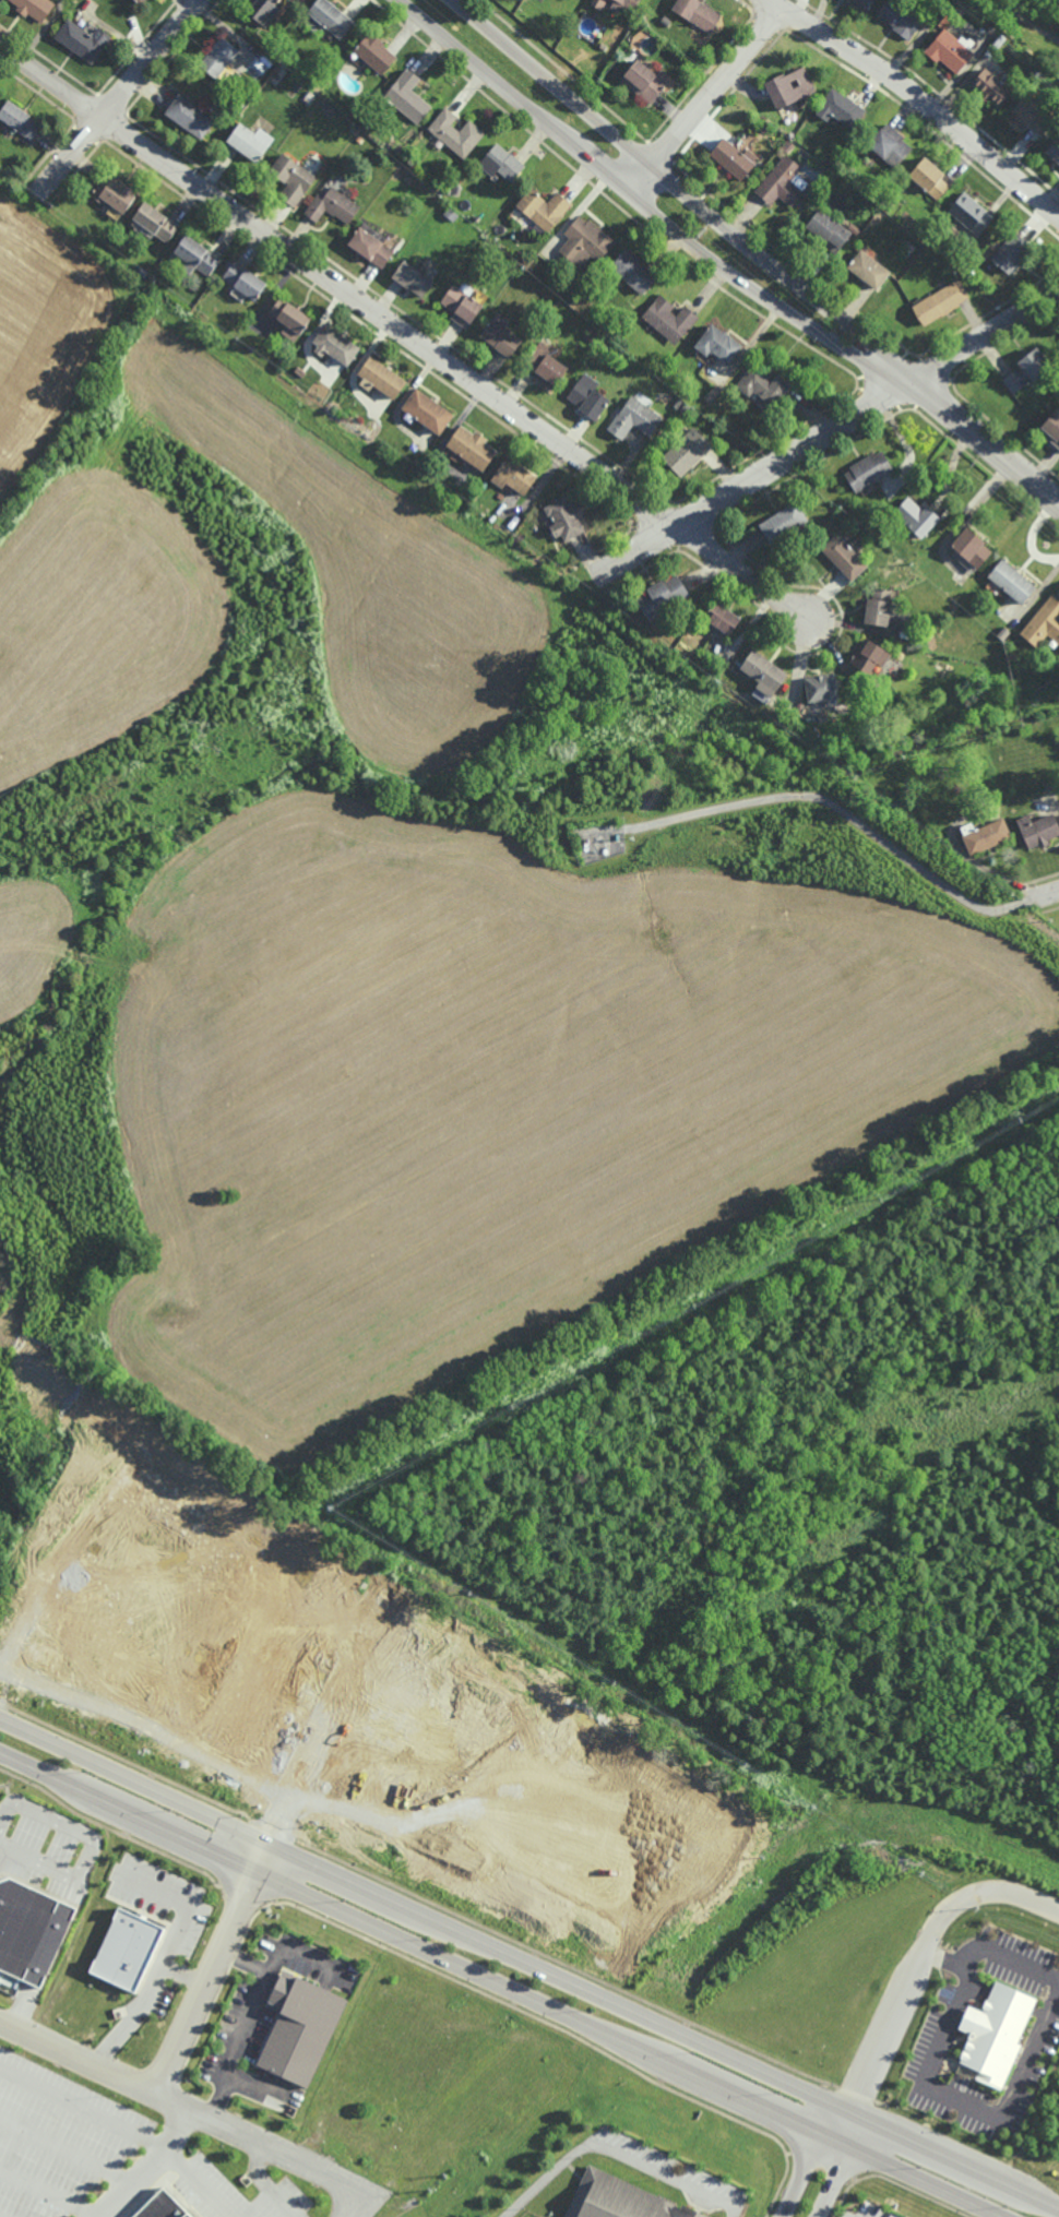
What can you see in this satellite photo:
building: (139, 1)
building: (597, 3)
building: (621, 4)
building: (860, 4)
building: (33, 8)
building: (959, 10)
building: (263, 11)
building: (695, 13)
building: (899, 19)
building: (328, 20)
road: (1026, 20)
building: (665, 21)
building: (638, 24)
park: (1021, 28)
building: (82, 40)
building: (950, 50)
building: (374, 53)
building: (217, 58)
building: (282, 72)
building: (642, 82)
road: (718, 86)
building: (990, 87)
building: (788, 88)
building: (408, 97)
road: (117, 98)
road: (921, 99)
building: (841, 109)
building: (1028, 117)
building: (189, 118)
building: (16, 121)
building: (764, 128)
building: (354, 130)
building: (456, 133)
building: (248, 143)
building: (787, 145)
building: (890, 145)
building: (1054, 150)
building: (733, 159)
building: (504, 160)
building: (291, 178)
building: (929, 178)
road: (640, 179)
building: (783, 182)
building: (454, 188)
building: (114, 191)
road: (682, 191)
building: (333, 204)
building: (889, 205)
building: (543, 206)
road: (643, 207)
building: (449, 212)
building: (971, 213)
building: (154, 219)
building: (828, 229)
power tower: (704, 231)
building: (585, 241)
building: (370, 243)
building: (486, 243)
building: (1010, 251)
building: (193, 255)
building: (631, 270)
building: (868, 270)
building: (412, 277)
building: (243, 279)
building: (940, 301)
building: (462, 303)
building: (288, 317)
building: (668, 318)
building: (607, 321)
building: (500, 334)
road: (406, 335)
road: (985, 335)
building: (592, 337)
building: (604, 343)
building: (717, 343)
building: (336, 344)
building: (251, 348)
building: (544, 366)
building: (1027, 370)
building: (380, 377)
building: (764, 384)
building: (587, 396)
building: (678, 403)
building: (686, 408)
building: (427, 410)
building: (635, 416)
building: (1051, 427)
road: (986, 441)
building: (472, 446)
building: (688, 452)
power tower: (975, 461)
building: (868, 469)
building: (513, 476)
road: (753, 480)
building: (917, 516)
building: (563, 517)
building: (785, 522)
building: (971, 546)
building: (534, 550)
building: (844, 557)
building: (1011, 581)
building: (662, 596)
building: (879, 607)
building: (719, 618)
building: (1044, 622)
building: (1003, 632)
building: (677, 653)
building: (1012, 655)
building: (869, 656)
building: (763, 672)
building: (1046, 682)
building: (821, 688)
road: (848, 815)
building: (1037, 832)
building: (984, 836)
road: (1052, 892)
road: (123, 1649)
road: (166, 1713)
road: (262, 1860)
road: (37, 1861)
road: (185, 1902)
building: (21, 1927)
building: (127, 1950)
road: (297, 1950)
road: (987, 1950)
road: (920, 1952)
road: (529, 1962)
road: (498, 1987)
road: (146, 1998)
road: (248, 2017)
building: (299, 2029)
building: (995, 2033)
road: (190, 2103)
road: (966, 2103)
road: (83, 2109)
road: (66, 2153)
road: (617, 2153)
road: (807, 2157)
road: (844, 2165)
road: (152, 2166)
road: (198, 2182)
road: (263, 2182)
road: (50, 2192)
building: (619, 2200)
road: (367, 2204)
building: (162, 2207)

